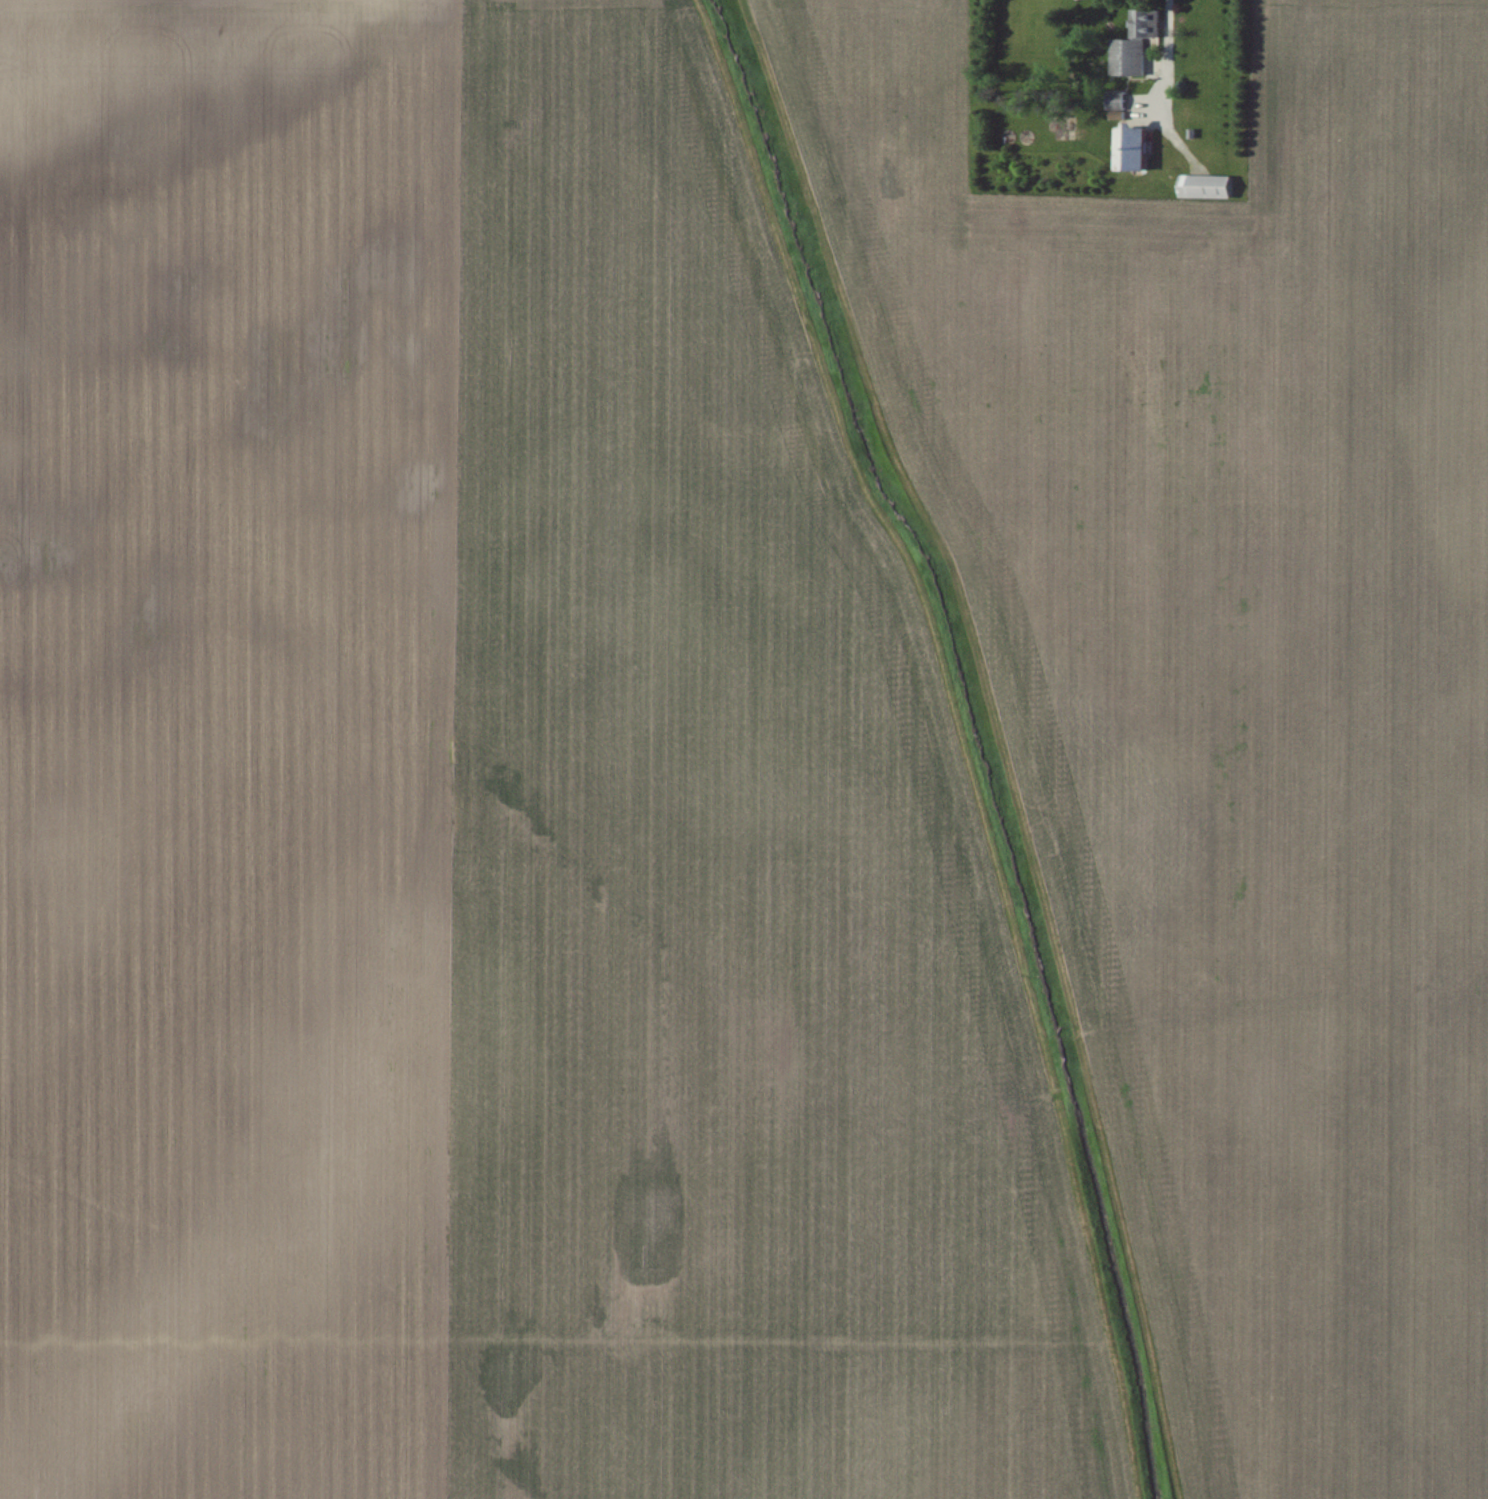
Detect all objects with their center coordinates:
building: (1135, 47)
road: (1170, 90)
building: (1118, 101)
building: (1134, 147)
building: (1208, 187)

